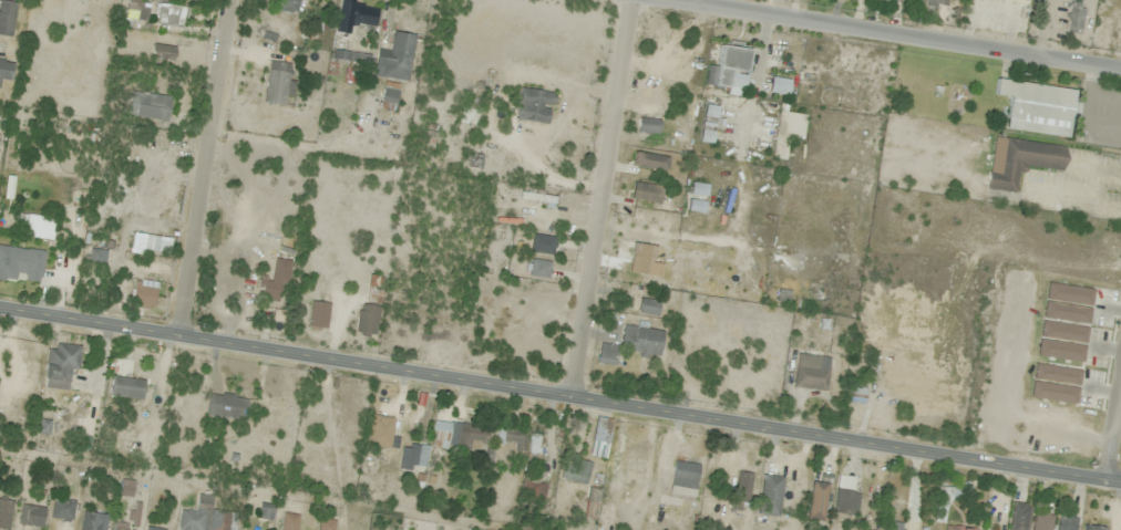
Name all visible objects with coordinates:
building: (187, 0)
building: (1025, 0)
building: (892, 1)
building: (934, 2)
building: (287, 6)
building: (136, 12)
building: (171, 14)
building: (354, 15)
building: (7, 17)
building: (1076, 18)
road: (893, 34)
building: (162, 53)
building: (351, 58)
building: (397, 58)
building: (6, 69)
building: (730, 71)
building: (279, 83)
building: (779, 86)
building: (389, 96)
building: (148, 105)
building: (534, 106)
building: (1038, 107)
building: (708, 124)
building: (648, 125)
road: (258, 127)
building: (786, 132)
building: (651, 162)
building: (1024, 162)
road: (202, 167)
building: (699, 189)
building: (646, 191)
road: (599, 198)
building: (696, 206)
building: (700, 222)
building: (37, 226)
building: (136, 242)
building: (542, 243)
building: (96, 257)
building: (20, 264)
building: (538, 268)
building: (268, 289)
building: (143, 295)
building: (371, 306)
building: (648, 306)
building: (318, 315)
building: (523, 318)
building: (640, 341)
building: (607, 354)
building: (61, 361)
building: (811, 372)
building: (127, 387)
road: (559, 395)
building: (857, 395)
building: (226, 405)
road: (1112, 430)
building: (379, 432)
building: (459, 435)
building: (599, 438)
building: (520, 441)
building: (413, 456)
building: (575, 470)
building: (685, 475)
building: (125, 488)
building: (532, 489)
building: (742, 490)
building: (770, 495)
building: (845, 497)
building: (593, 499)
building: (816, 500)
building: (62, 509)
building: (265, 510)
building: (4, 513)
building: (30, 516)
building: (1019, 516)
building: (206, 517)
building: (130, 518)
building: (92, 521)
building: (289, 521)
building: (1042, 521)
building: (1067, 523)
building: (325, 524)
building: (894, 526)
building: (153, 528)
building: (958, 528)
building: (1094, 528)

